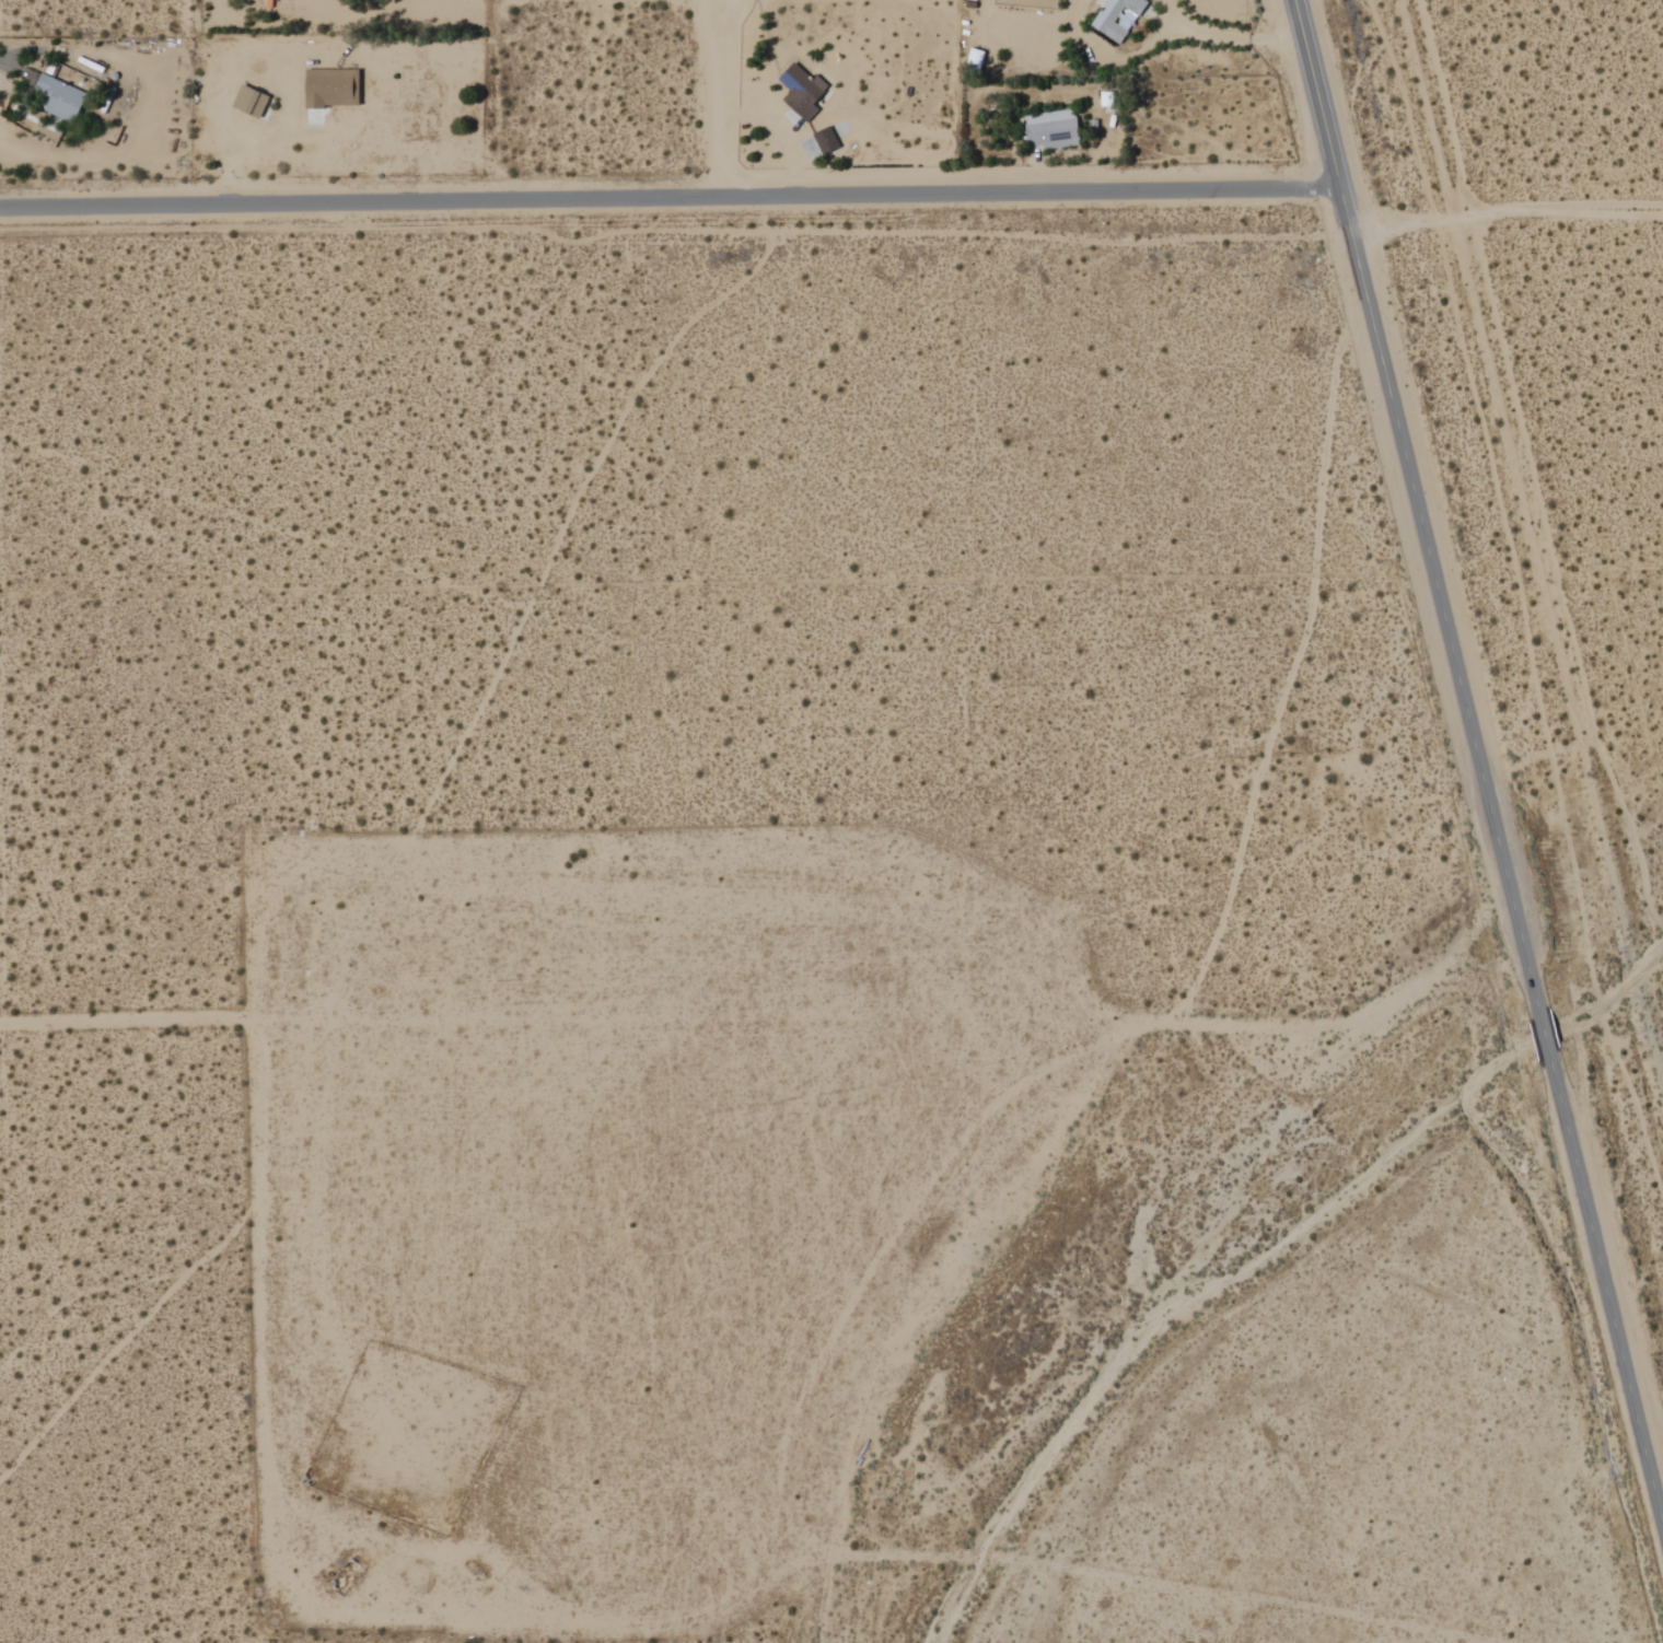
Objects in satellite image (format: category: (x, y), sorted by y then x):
building: (1116, 18)
building: (974, 62)
building: (330, 89)
building: (800, 92)
building: (56, 96)
road: (713, 98)
building: (248, 103)
road: (1442, 106)
building: (1051, 130)
building: (825, 141)
road: (671, 198)
road: (1411, 214)
road: (1567, 214)
road: (1479, 762)

